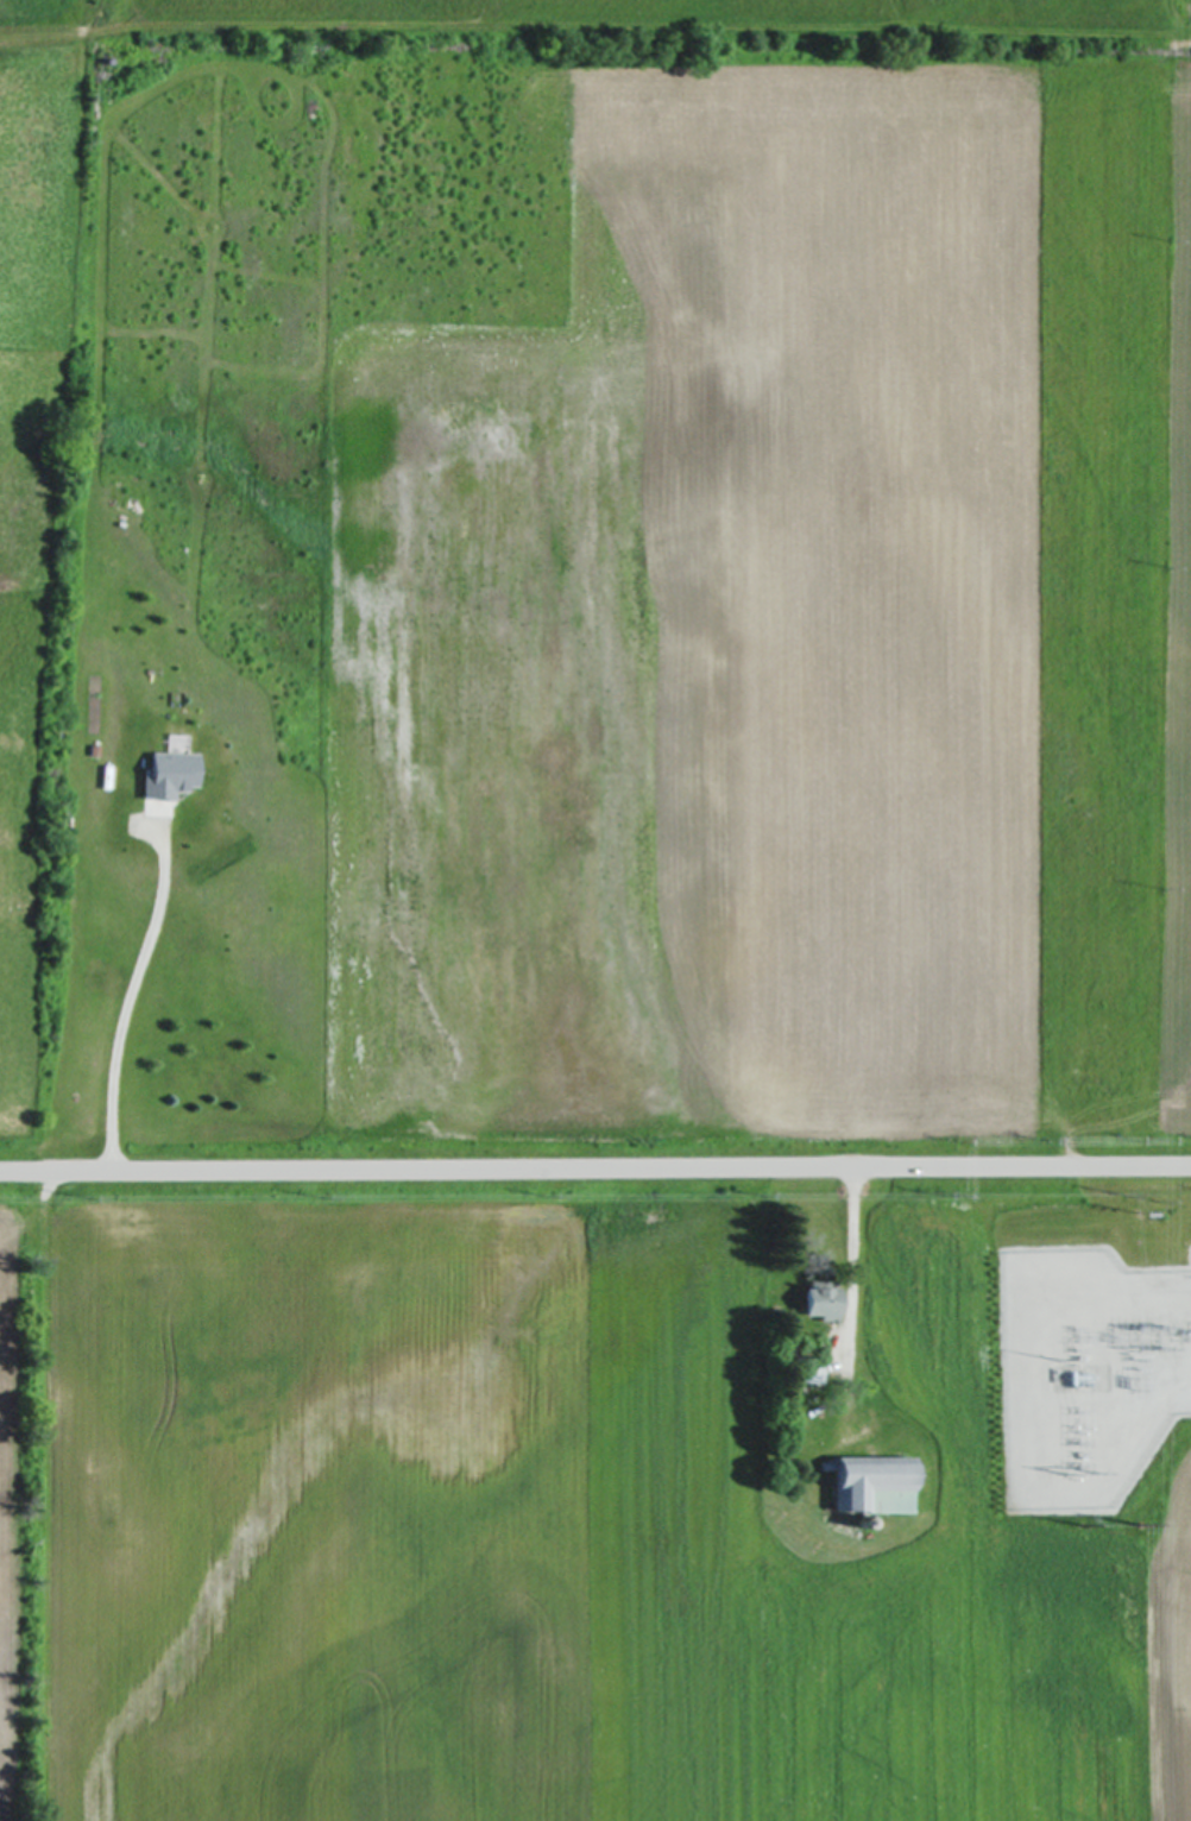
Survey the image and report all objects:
power tower: (1173, 237)
power tower: (1170, 565)
power tower: (1164, 886)
road: (595, 1167)
power tower: (1141, 1210)
building: (819, 1303)
power tower: (1117, 1324)
power tower: (1145, 1328)
building: (806, 1371)
power substation: (1088, 1374)
power tower: (1123, 1391)
power tower: (1075, 1472)
building: (871, 1485)
power tower: (1138, 1523)

